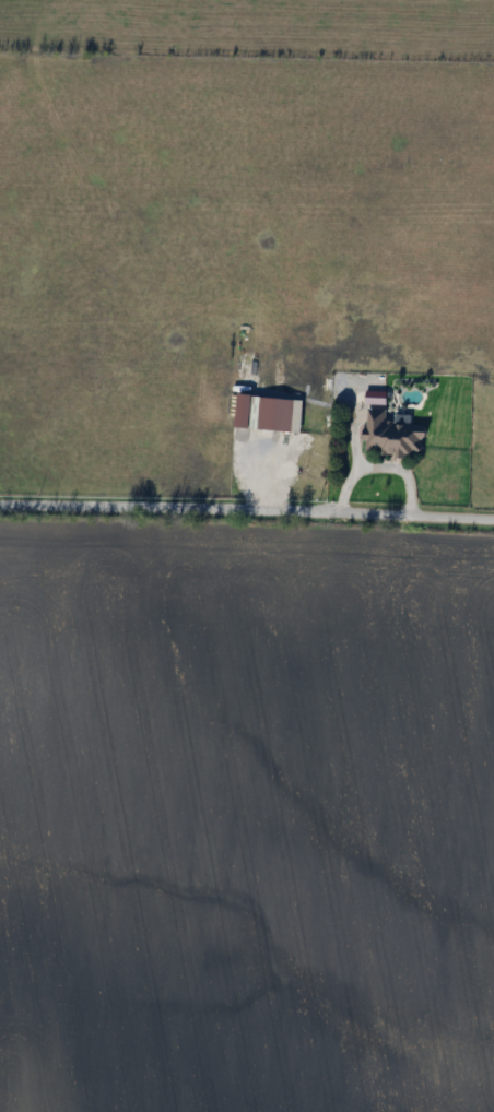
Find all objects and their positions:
building: (392, 437)
road: (247, 512)

